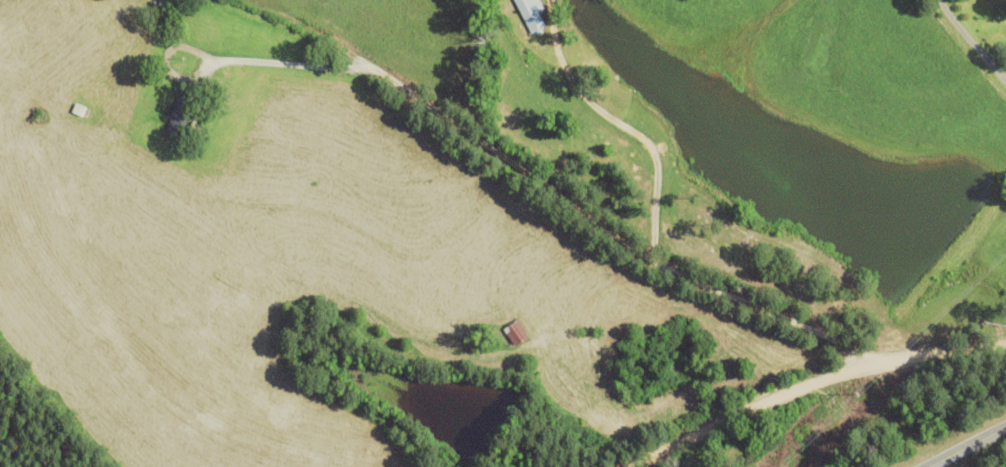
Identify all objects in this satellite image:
building: (530, 15)
road: (971, 41)
building: (76, 109)
road: (544, 185)
building: (513, 332)
road: (806, 383)
road: (965, 445)

